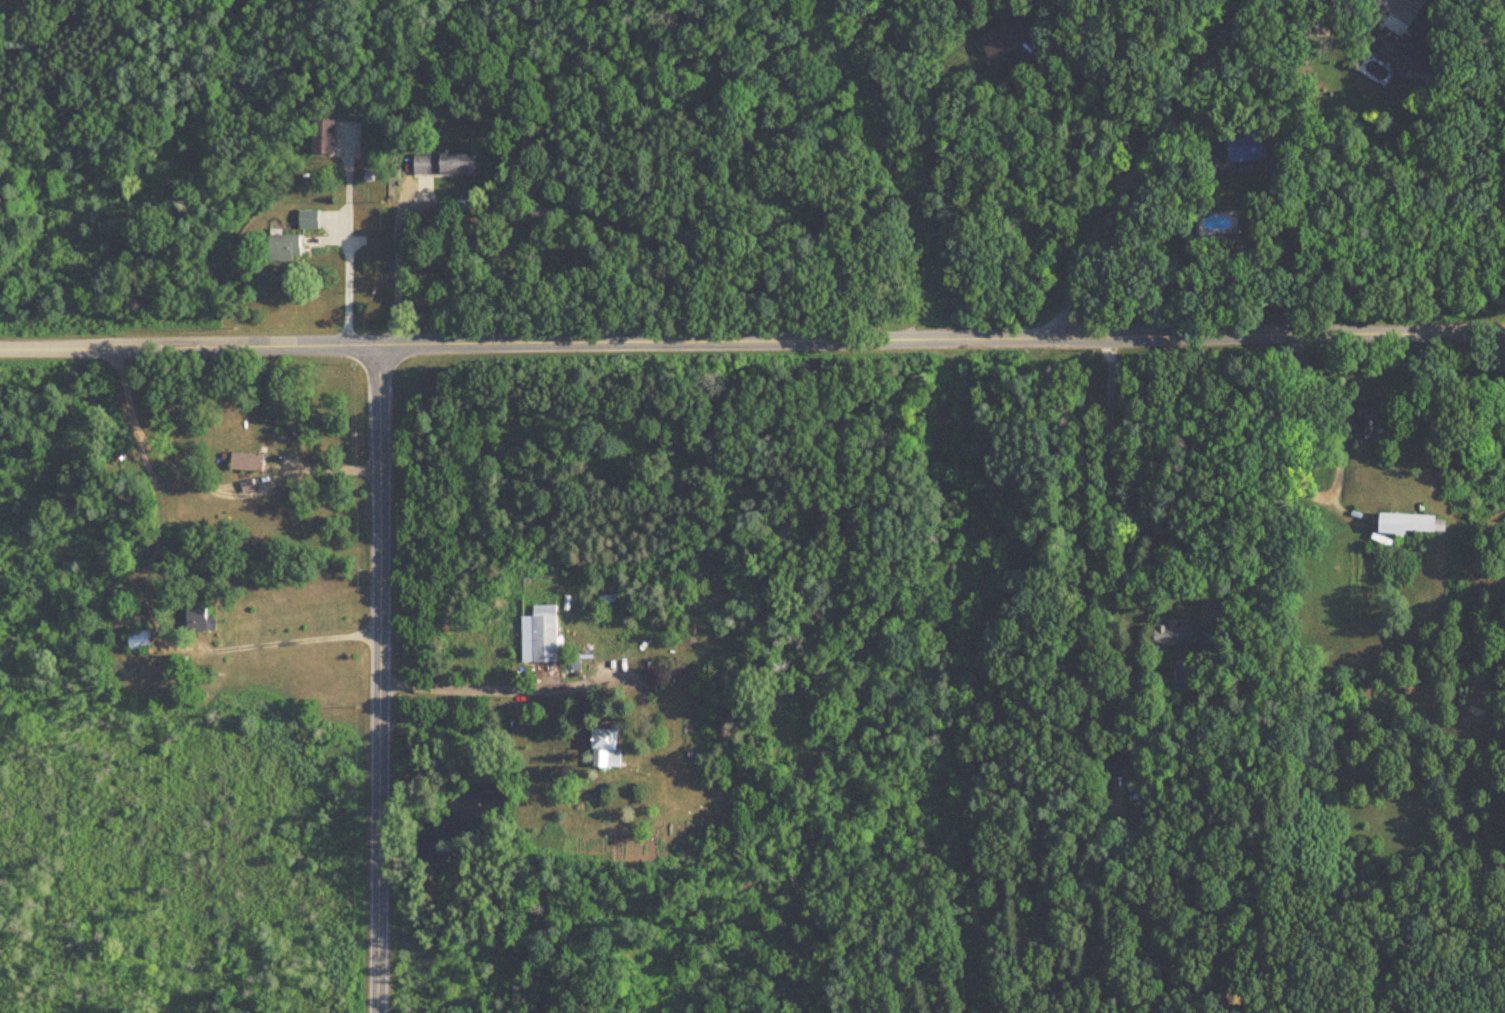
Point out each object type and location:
building: (1348, 4)
road: (1402, 4)
building: (1000, 37)
building: (1402, 54)
road: (1076, 131)
building: (328, 138)
building: (1242, 147)
road: (1151, 164)
building: (450, 165)
building: (311, 220)
road: (345, 237)
building: (1226, 242)
building: (288, 248)
road: (396, 262)
road: (752, 342)
building: (1365, 419)
building: (247, 462)
road: (241, 483)
road: (1116, 484)
building: (1408, 525)
road: (142, 614)
building: (201, 620)
building: (1170, 635)
building: (537, 638)
building: (141, 641)
road: (380, 679)
road: (477, 687)
building: (602, 748)
building: (1115, 763)

